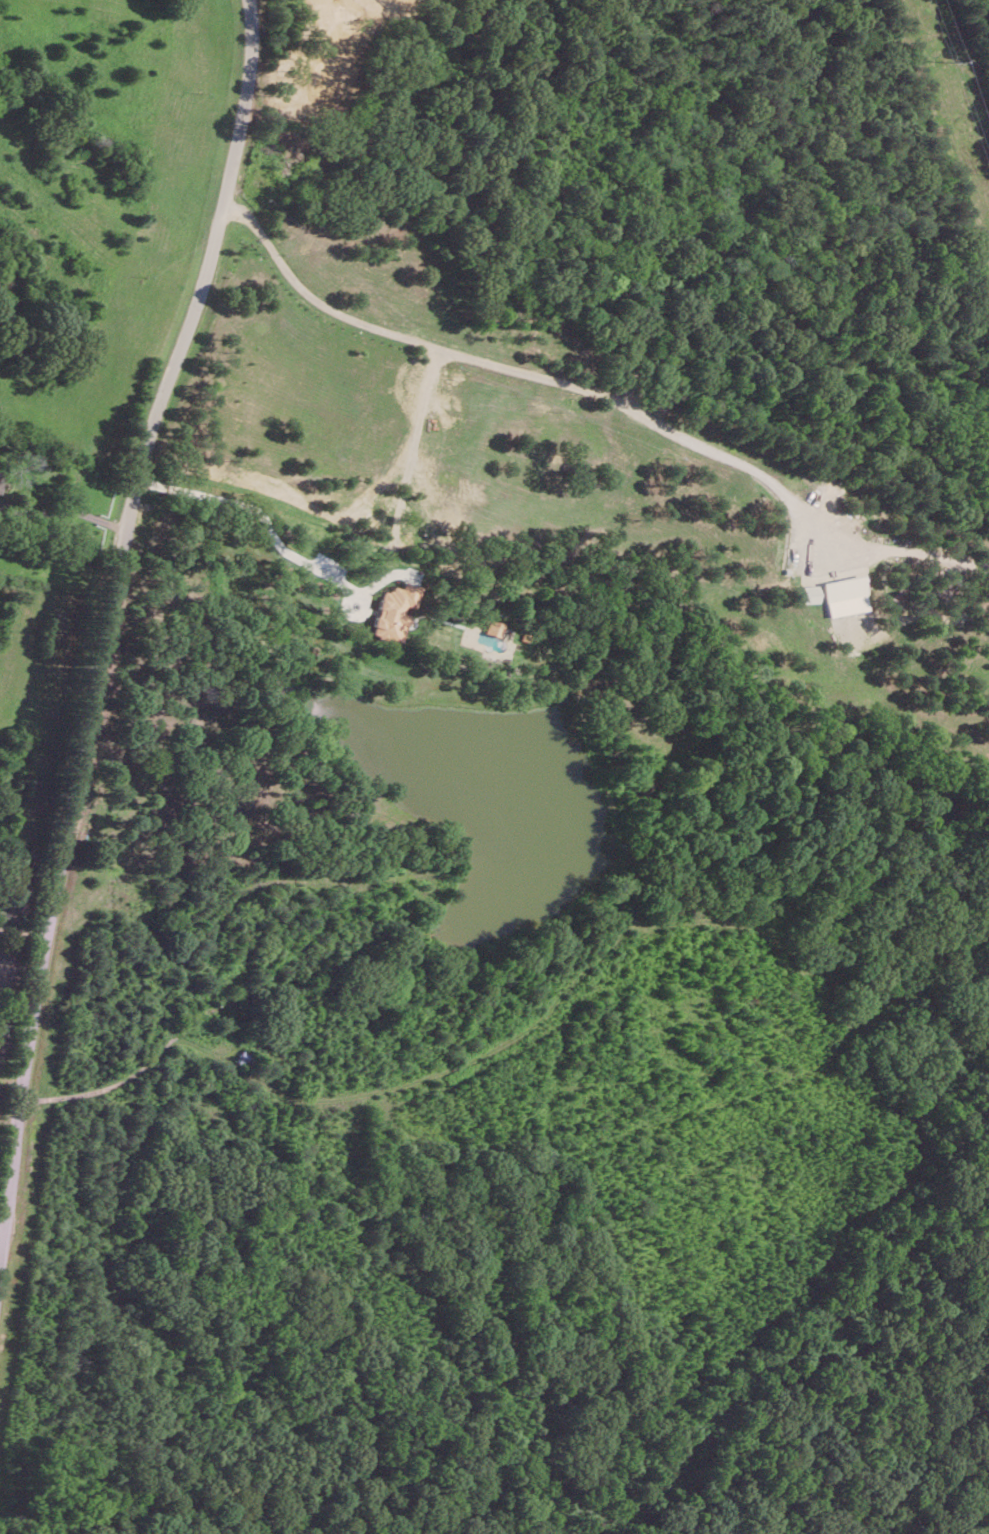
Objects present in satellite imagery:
road: (508, 367)
road: (65, 511)
building: (809, 593)
building: (845, 595)
building: (394, 610)
road: (107, 625)
building: (491, 627)
road: (114, 1084)

